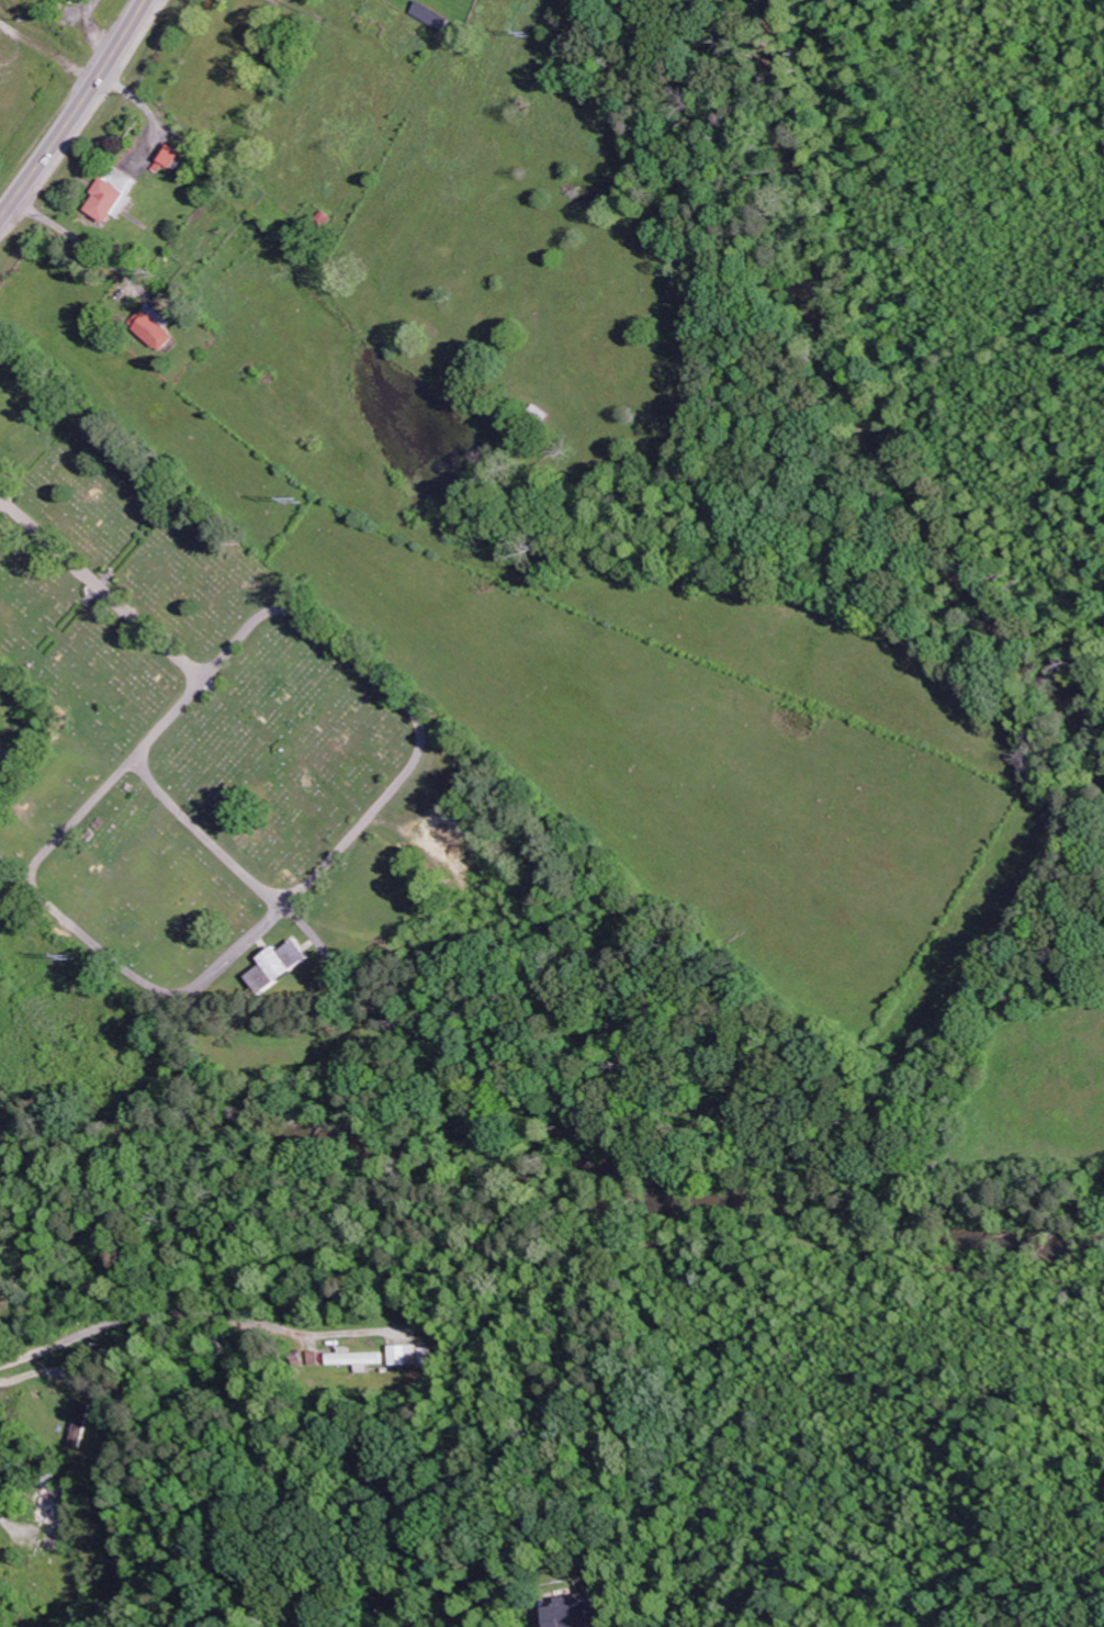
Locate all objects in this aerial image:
building: (432, 16)
road: (76, 111)
building: (171, 156)
building: (108, 201)
building: (155, 327)
river: (882, 424)
road: (101, 582)
park: (201, 733)
road: (351, 831)
building: (281, 965)
river: (553, 1158)
road: (127, 1319)
building: (404, 1355)
building: (425, 1356)
building: (356, 1359)
building: (81, 1430)
building: (50, 1501)
building: (53, 1542)
building: (577, 1612)
road: (1058, 1622)

